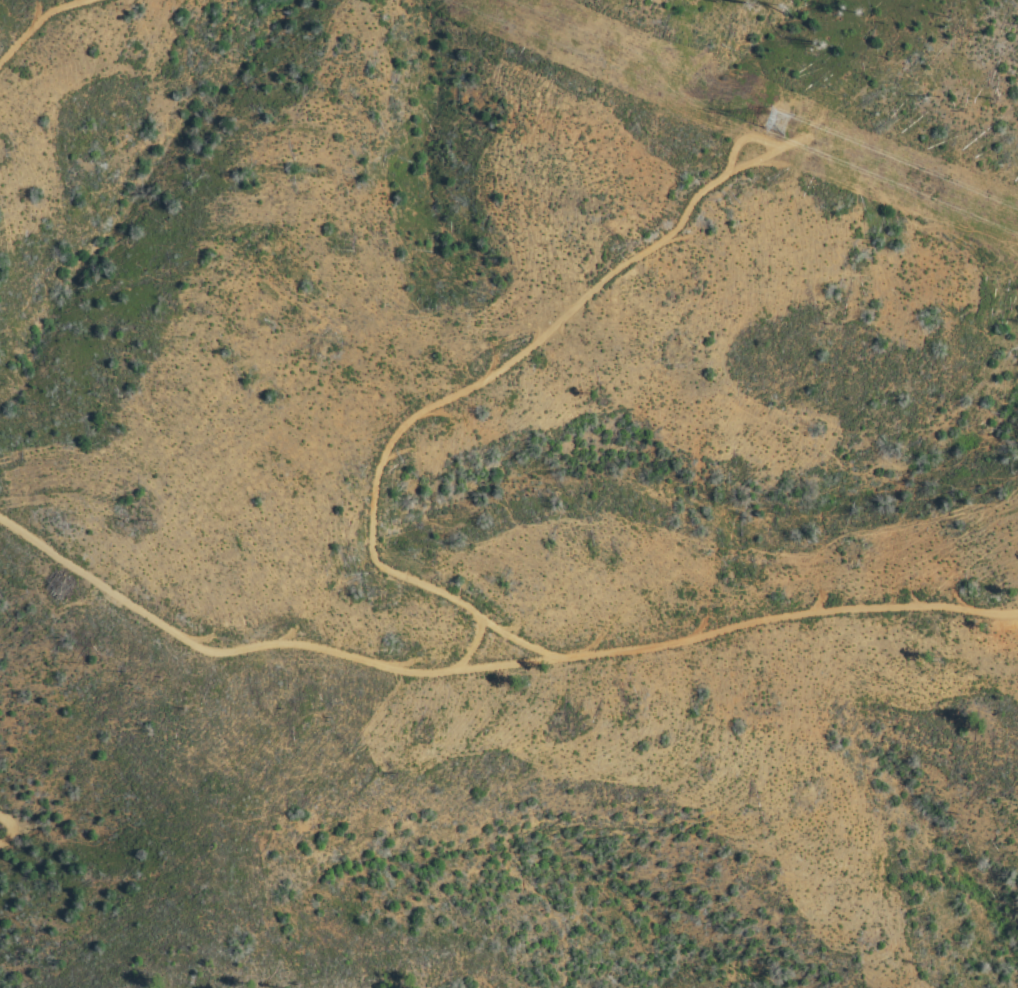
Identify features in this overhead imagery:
road: (44, 21)
power tower: (778, 121)
road: (744, 137)
road: (464, 390)
road: (473, 647)
road: (489, 665)
road: (11, 827)

